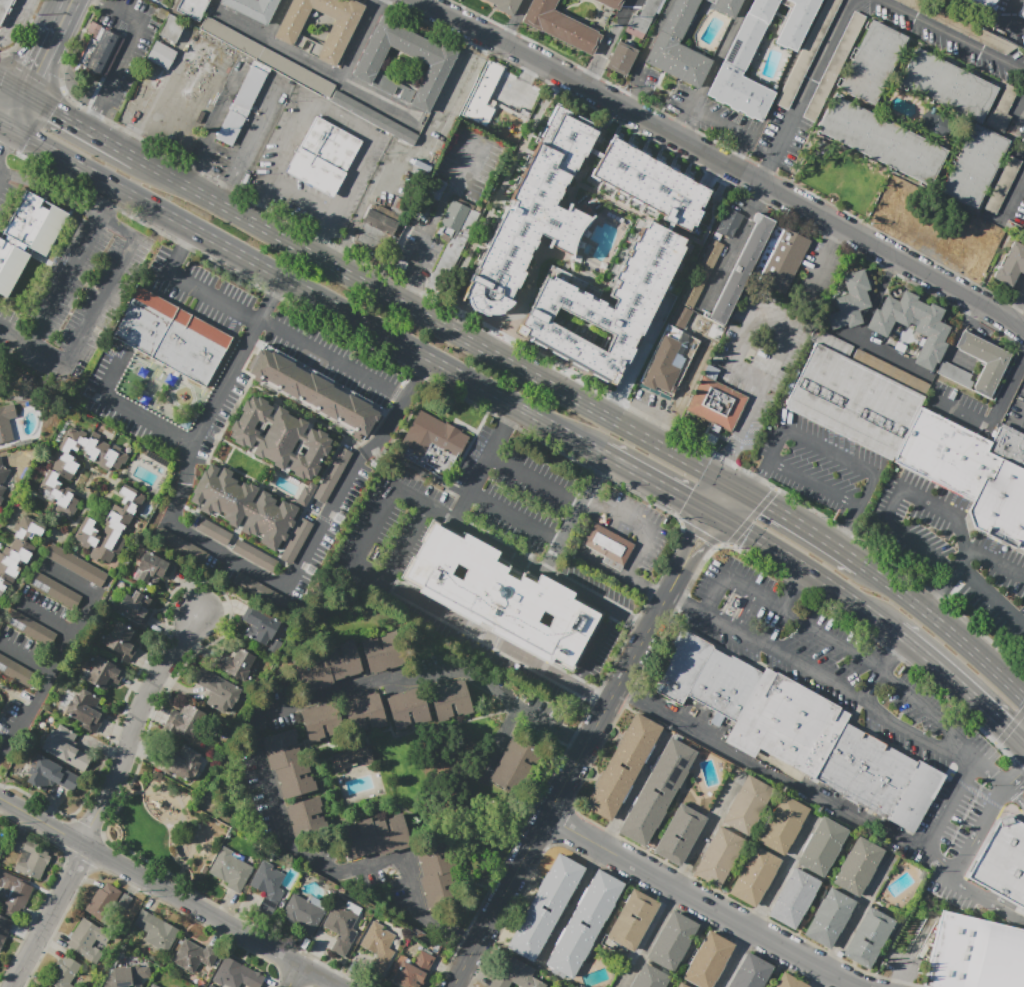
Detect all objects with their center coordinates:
parking lot: (160, 0)
building: (206, 0)
road: (94, 1)
building: (612, 3)
road: (629, 3)
road: (497, 4)
building: (983, 4)
building: (506, 5)
road: (446, 6)
building: (3, 7)
building: (725, 7)
building: (192, 8)
building: (254, 8)
building: (1022, 12)
road: (65, 13)
parking lot: (12, 19)
road: (486, 19)
building: (642, 19)
road: (11, 21)
road: (514, 21)
road: (1003, 21)
parking lot: (1006, 21)
building: (692, 22)
building: (795, 23)
building: (560, 25)
building: (290, 28)
building: (172, 29)
road: (654, 34)
road: (953, 38)
road: (360, 40)
parking lot: (127, 45)
road: (605, 45)
building: (677, 45)
road: (128, 46)
building: (255, 50)
building: (98, 51)
road: (720, 53)
building: (808, 53)
building: (161, 55)
building: (620, 58)
road: (42, 61)
road: (3, 62)
building: (873, 62)
building: (745, 64)
building: (834, 66)
road: (316, 67)
building: (437, 71)
traffic signals: (37, 72)
parking lot: (643, 80)
building: (948, 85)
road: (12, 88)
road: (635, 89)
road: (803, 91)
parking lot: (513, 92)
building: (483, 94)
building: (238, 106)
road: (149, 107)
road: (219, 107)
building: (1002, 108)
road: (16, 111)
traffic signals: (53, 111)
road: (680, 118)
parking lot: (715, 120)
building: (935, 122)
road: (93, 123)
road: (339, 123)
road: (4, 124)
road: (694, 125)
road: (80, 127)
road: (735, 127)
road: (4, 129)
road: (259, 131)
road: (686, 140)
building: (882, 140)
road: (5, 146)
traffic signals: (5, 150)
building: (323, 156)
road: (219, 158)
parking lot: (474, 161)
road: (1, 164)
road: (1, 166)
road: (190, 166)
building: (975, 166)
building: (1002, 184)
road: (231, 187)
parking lot: (7, 192)
road: (47, 193)
road: (498, 198)
building: (430, 200)
road: (1012, 200)
road: (104, 202)
road: (297, 202)
road: (439, 205)
building: (537, 215)
building: (453, 218)
building: (728, 223)
building: (377, 228)
road: (116, 229)
building: (1022, 230)
building: (27, 236)
road: (186, 236)
building: (668, 240)
road: (735, 247)
parking lot: (418, 251)
road: (341, 253)
building: (451, 254)
building: (780, 258)
road: (822, 262)
building: (1011, 265)
building: (400, 268)
building: (740, 269)
building: (702, 274)
parking lot: (817, 277)
road: (64, 281)
road: (278, 286)
road: (400, 288)
road: (303, 289)
parking lot: (74, 297)
road: (396, 301)
building: (851, 301)
road: (1015, 306)
road: (988, 309)
road: (975, 315)
building: (679, 318)
road: (92, 319)
road: (793, 325)
road: (271, 329)
road: (861, 329)
building: (933, 333)
road: (16, 335)
building: (170, 336)
road: (638, 357)
parking lot: (760, 359)
building: (669, 361)
building: (984, 361)
road: (423, 365)
building: (889, 370)
building: (955, 374)
road: (688, 380)
building: (312, 393)
building: (855, 400)
building: (716, 403)
parking lot: (964, 409)
parking lot: (1016, 409)
road: (132, 410)
road: (651, 411)
road: (511, 413)
road: (993, 422)
building: (7, 423)
building: (433, 436)
building: (280, 437)
road: (776, 445)
road: (602, 452)
road: (829, 453)
traffic signals: (727, 458)
road: (686, 460)
road: (623, 464)
building: (77, 466)
parking lot: (818, 466)
road: (721, 467)
road: (765, 468)
building: (333, 469)
road: (480, 471)
building: (974, 471)
road: (750, 474)
traffic signals: (761, 477)
building: (2, 479)
road: (533, 480)
road: (723, 480)
road: (813, 483)
road: (714, 485)
road: (752, 485)
road: (736, 488)
road: (674, 492)
road: (769, 495)
traffic signals: (686, 499)
road: (725, 501)
road: (422, 502)
road: (709, 502)
traffic signals: (767, 505)
building: (244, 506)
road: (573, 511)
road: (943, 511)
road: (854, 512)
road: (780, 513)
road: (751, 516)
road: (512, 517)
building: (111, 526)
parking lot: (928, 529)
building: (215, 531)
road: (704, 534)
road: (692, 536)
road: (904, 536)
road: (734, 537)
road: (755, 537)
road: (642, 541)
road: (709, 541)
road: (715, 542)
traffic signals: (707, 544)
road: (724, 544)
building: (181, 545)
building: (609, 546)
parking lot: (952, 550)
building: (17, 552)
building: (250, 552)
road: (840, 552)
road: (224, 553)
road: (962, 557)
road: (995, 563)
building: (80, 568)
building: (154, 568)
road: (955, 568)
road: (544, 569)
road: (675, 580)
road: (733, 582)
parking lot: (997, 583)
road: (792, 587)
building: (258, 589)
building: (54, 590)
road: (939, 592)
building: (501, 595)
road: (991, 596)
road: (847, 597)
road: (725, 602)
building: (733, 602)
road: (418, 603)
road: (685, 606)
building: (135, 608)
road: (736, 608)
road: (745, 612)
road: (47, 619)
road: (641, 624)
building: (260, 626)
building: (30, 628)
road: (947, 630)
building: (121, 642)
road: (593, 648)
road: (64, 651)
building: (384, 652)
road: (894, 655)
road: (27, 656)
building: (238, 664)
building: (684, 667)
building: (327, 668)
building: (17, 673)
building: (104, 673)
building: (727, 685)
road: (960, 686)
building: (221, 694)
road: (588, 695)
building: (450, 700)
building: (407, 707)
building: (85, 710)
building: (364, 713)
building: (320, 720)
building: (186, 721)
building: (791, 724)
road: (132, 727)
traffic signals: (1006, 729)
road: (256, 734)
road: (503, 739)
building: (65, 749)
road: (943, 751)
building: (350, 757)
building: (184, 762)
building: (288, 764)
building: (516, 766)
building: (623, 767)
road: (769, 767)
building: (869, 772)
traffic signals: (1020, 774)
building: (51, 775)
road: (989, 775)
road: (1016, 777)
road: (559, 791)
building: (658, 792)
road: (1016, 796)
building: (919, 799)
building: (747, 805)
road: (945, 807)
building: (305, 816)
building: (783, 825)
park: (163, 828)
road: (978, 831)
road: (705, 833)
building: (680, 834)
building: (374, 836)
building: (823, 847)
building: (719, 856)
building: (30, 857)
building: (1003, 862)
road: (937, 865)
building: (858, 867)
building: (231, 869)
building: (438, 872)
building: (754, 876)
road: (781, 876)
building: (268, 886)
building: (14, 893)
road: (168, 893)
building: (794, 898)
road: (988, 899)
building: (104, 901)
road: (700, 902)
building: (546, 908)
building: (304, 913)
road: (49, 917)
building: (829, 918)
road: (853, 918)
building: (633, 919)
building: (584, 925)
building: (341, 927)
building: (156, 930)
building: (4, 931)
road: (648, 938)
building: (869, 938)
building: (89, 939)
building: (672, 941)
building: (378, 946)
building: (969, 951)
building: (193, 956)
road: (736, 959)
building: (707, 960)
building: (413, 970)
building: (751, 972)
building: (64, 973)
building: (516, 974)
building: (236, 975)
building: (127, 976)
road: (291, 976)
building: (649, 978)
road: (820, 979)
building: (789, 982)
building: (153, 985)
building: (680, 985)
building: (174, 986)
building: (176, 986)

